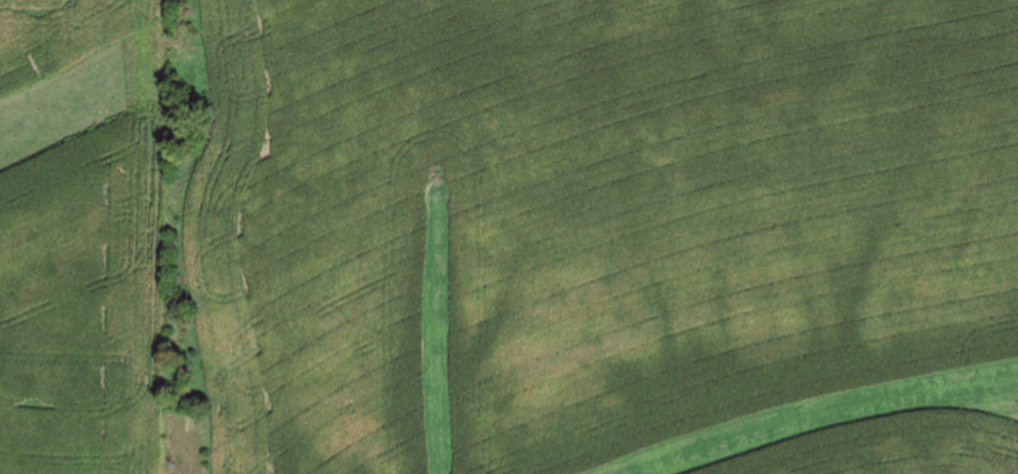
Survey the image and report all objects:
road: (817, 408)

